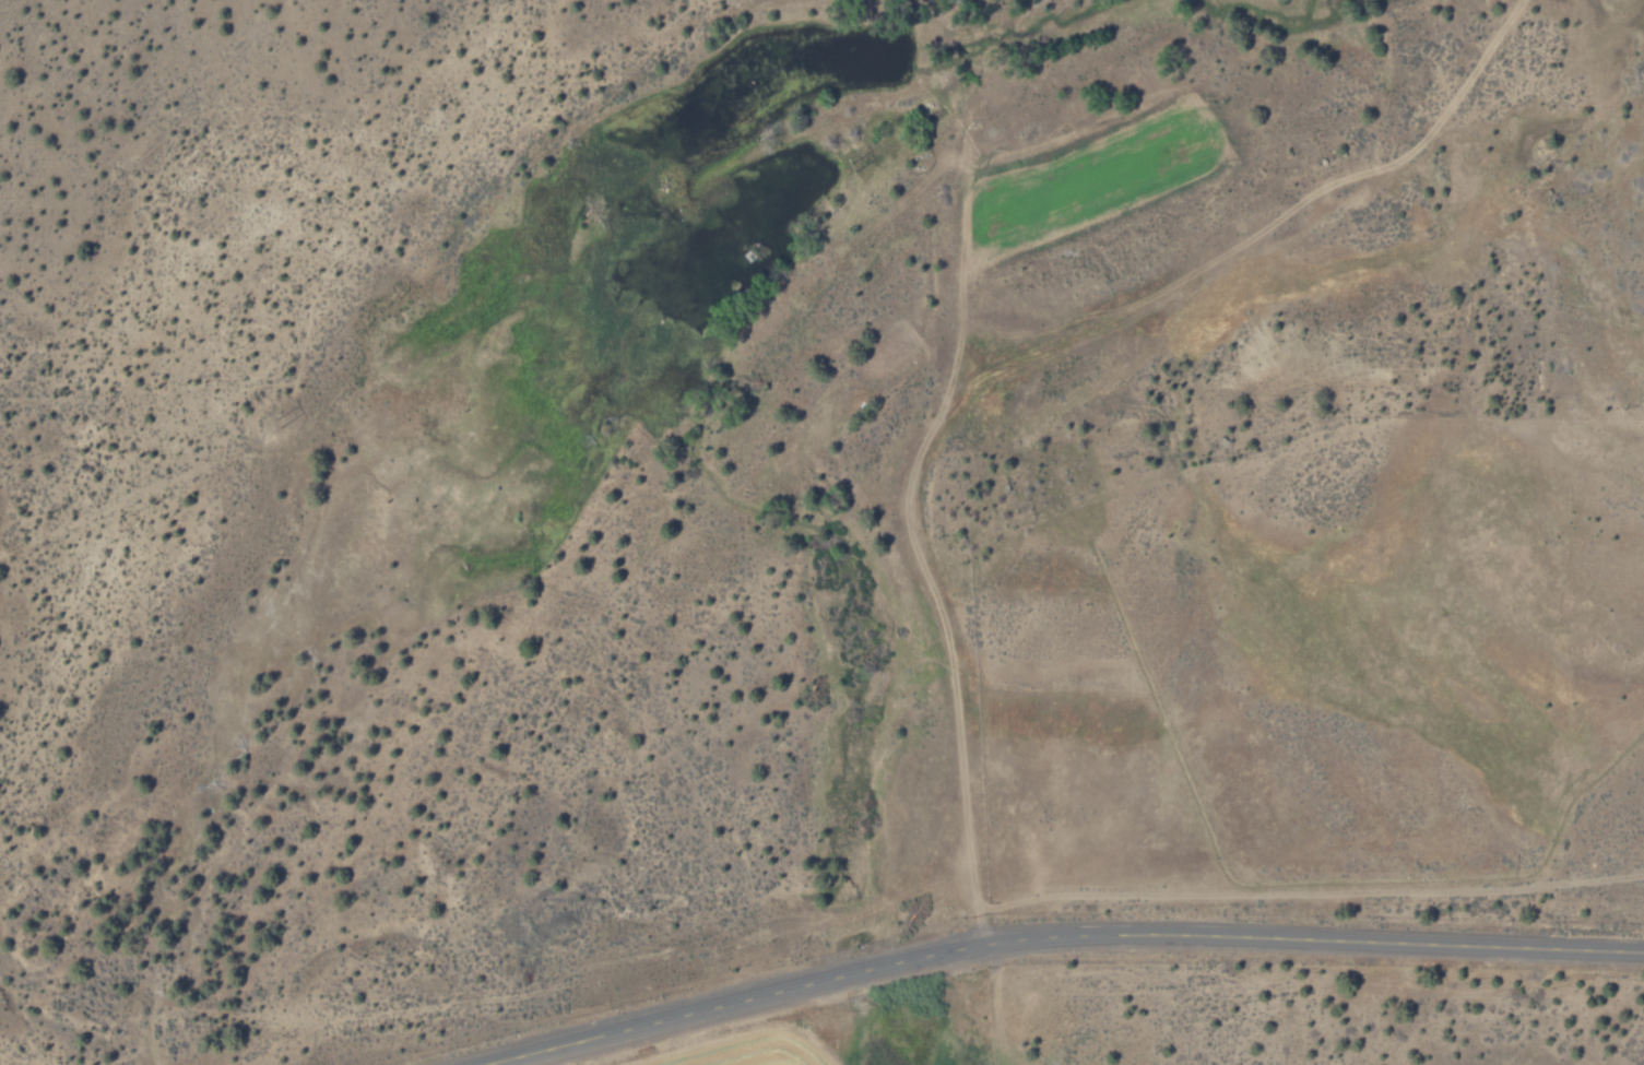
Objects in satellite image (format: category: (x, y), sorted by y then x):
road: (1259, 940)
road: (865, 969)
road: (669, 1017)
crop: (755, 1053)

